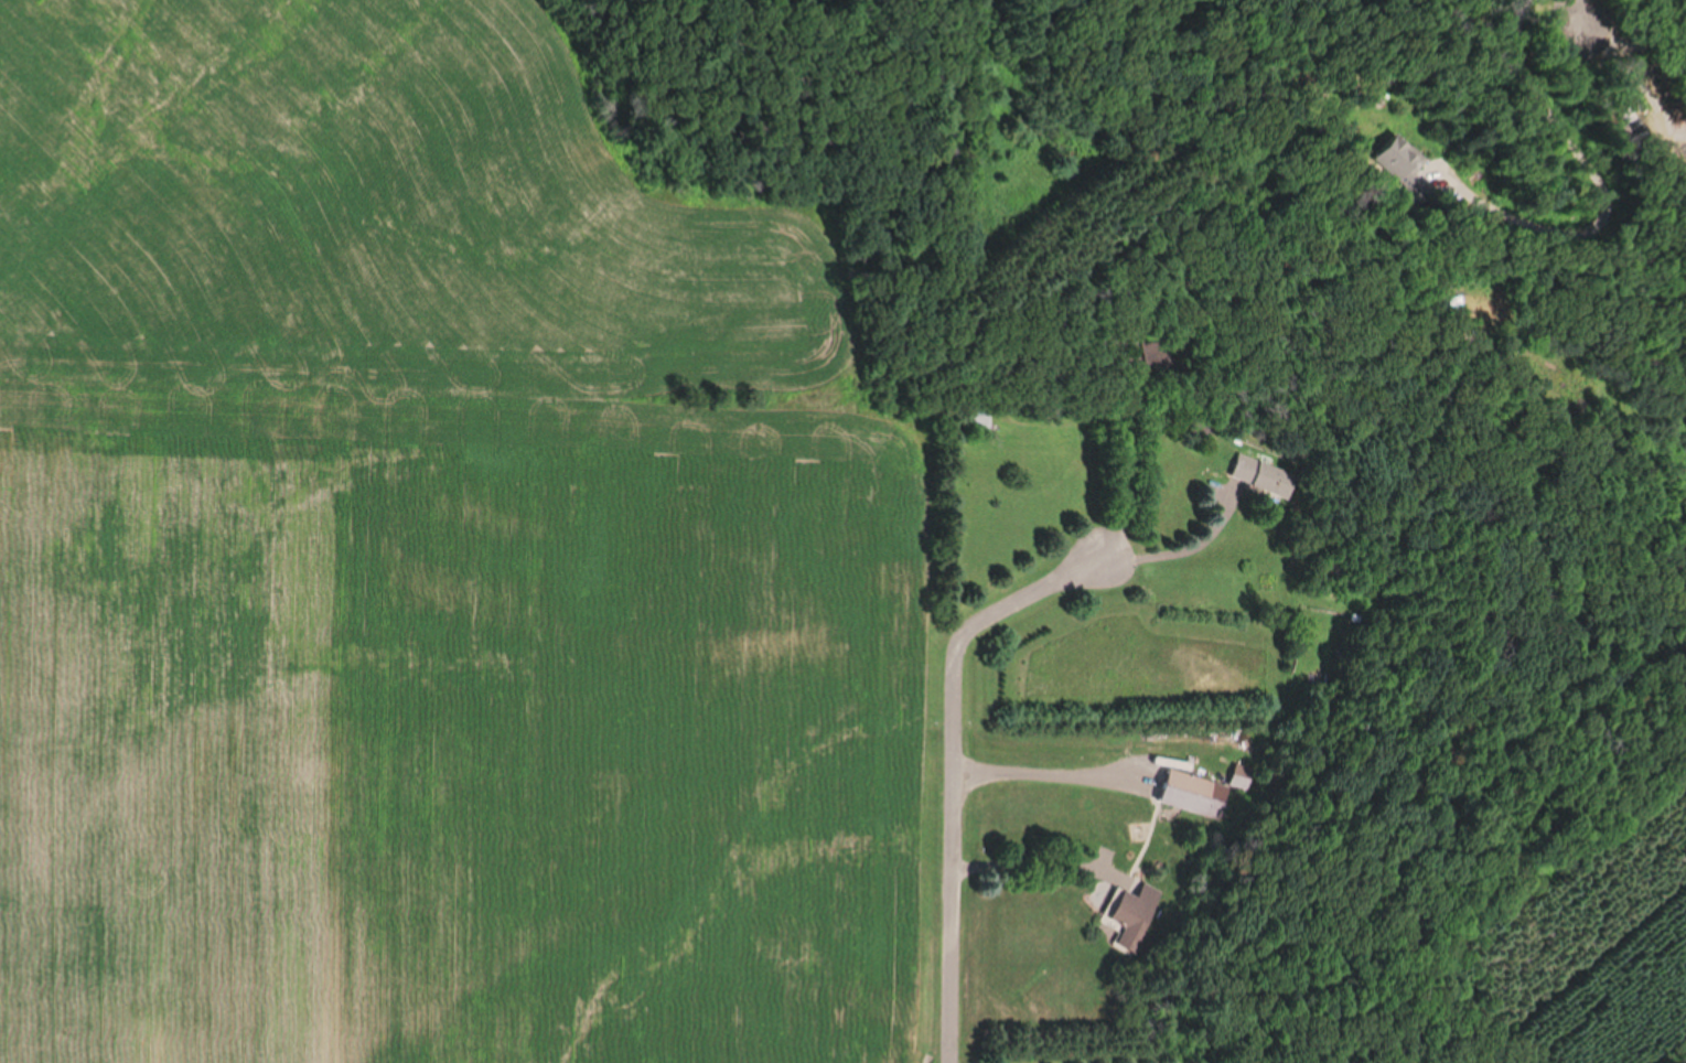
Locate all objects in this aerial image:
road: (1577, 31)
road: (1630, 42)
building: (1405, 164)
road: (1596, 175)
building: (978, 419)
building: (1268, 469)
road: (1182, 549)
road: (951, 763)
road: (1042, 772)
building: (1200, 784)
road: (1020, 867)
building: (1142, 905)

